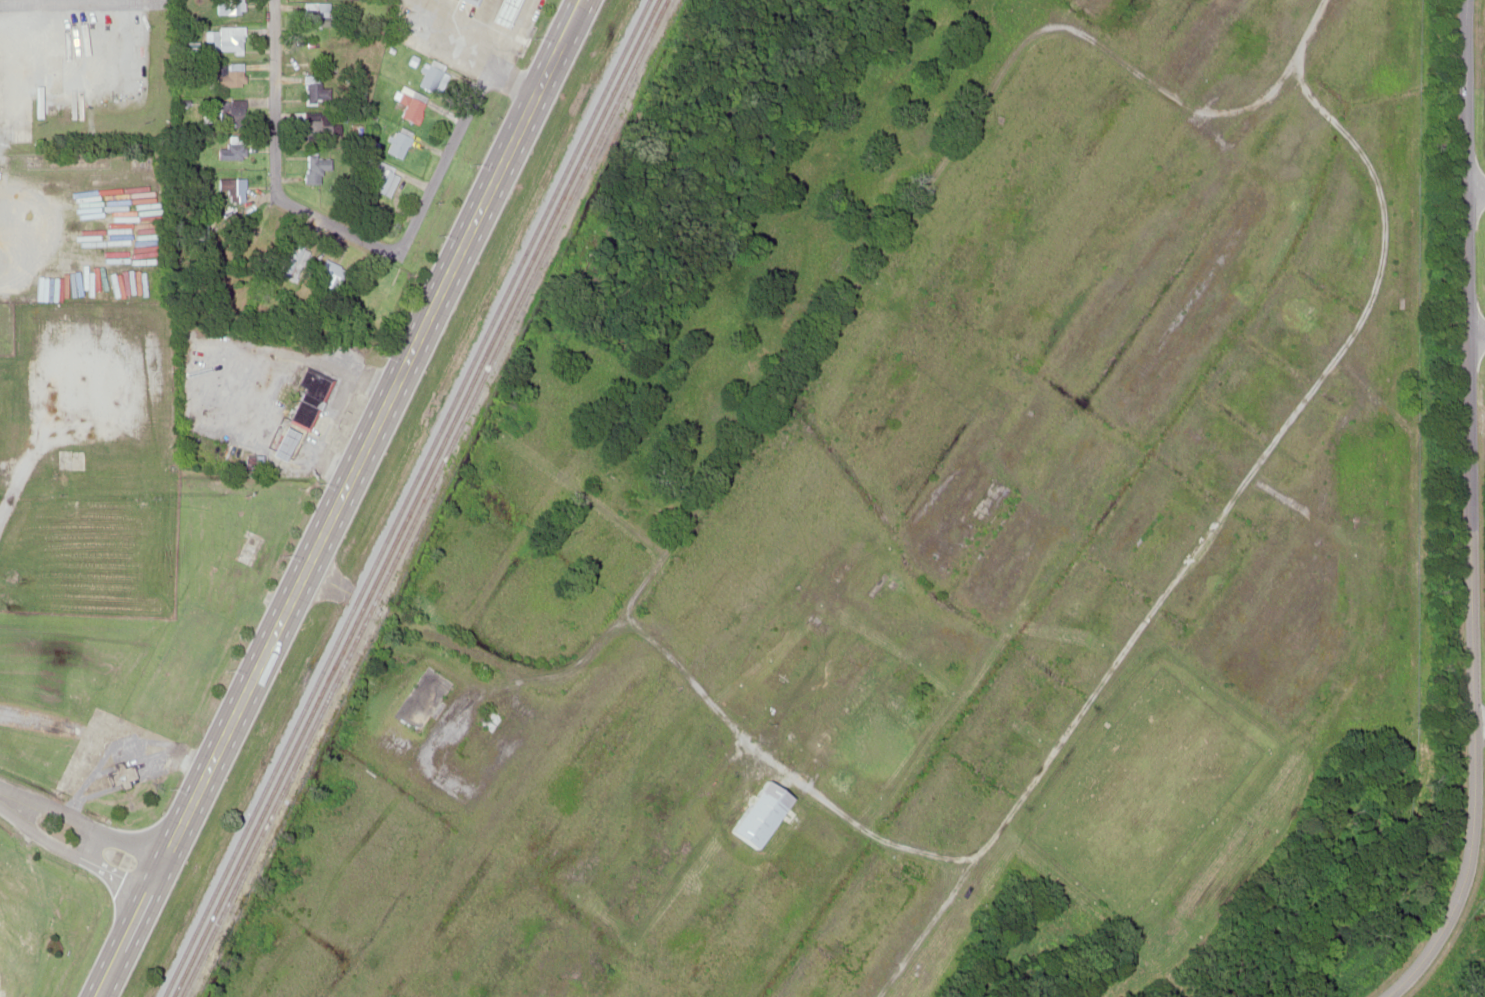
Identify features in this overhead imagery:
building: (471, 1)
building: (228, 6)
building: (500, 12)
gas station: (500, 12)
building: (317, 14)
building: (226, 38)
building: (230, 73)
building: (430, 74)
building: (0, 75)
building: (315, 89)
road: (276, 98)
building: (409, 104)
building: (232, 110)
building: (317, 124)
road: (458, 131)
building: (397, 143)
building: (231, 148)
building: (316, 167)
building: (378, 173)
building: (231, 188)
road: (340, 224)
building: (201, 230)
building: (260, 237)
building: (290, 261)
building: (328, 275)
road: (442, 286)
building: (6, 373)
building: (299, 414)
railway: (422, 497)
railway: (405, 498)
railway: (414, 498)
road: (1463, 512)
building: (120, 773)
road: (201, 783)
building: (756, 813)
road: (82, 821)
road: (72, 853)
airport: (3, 992)

